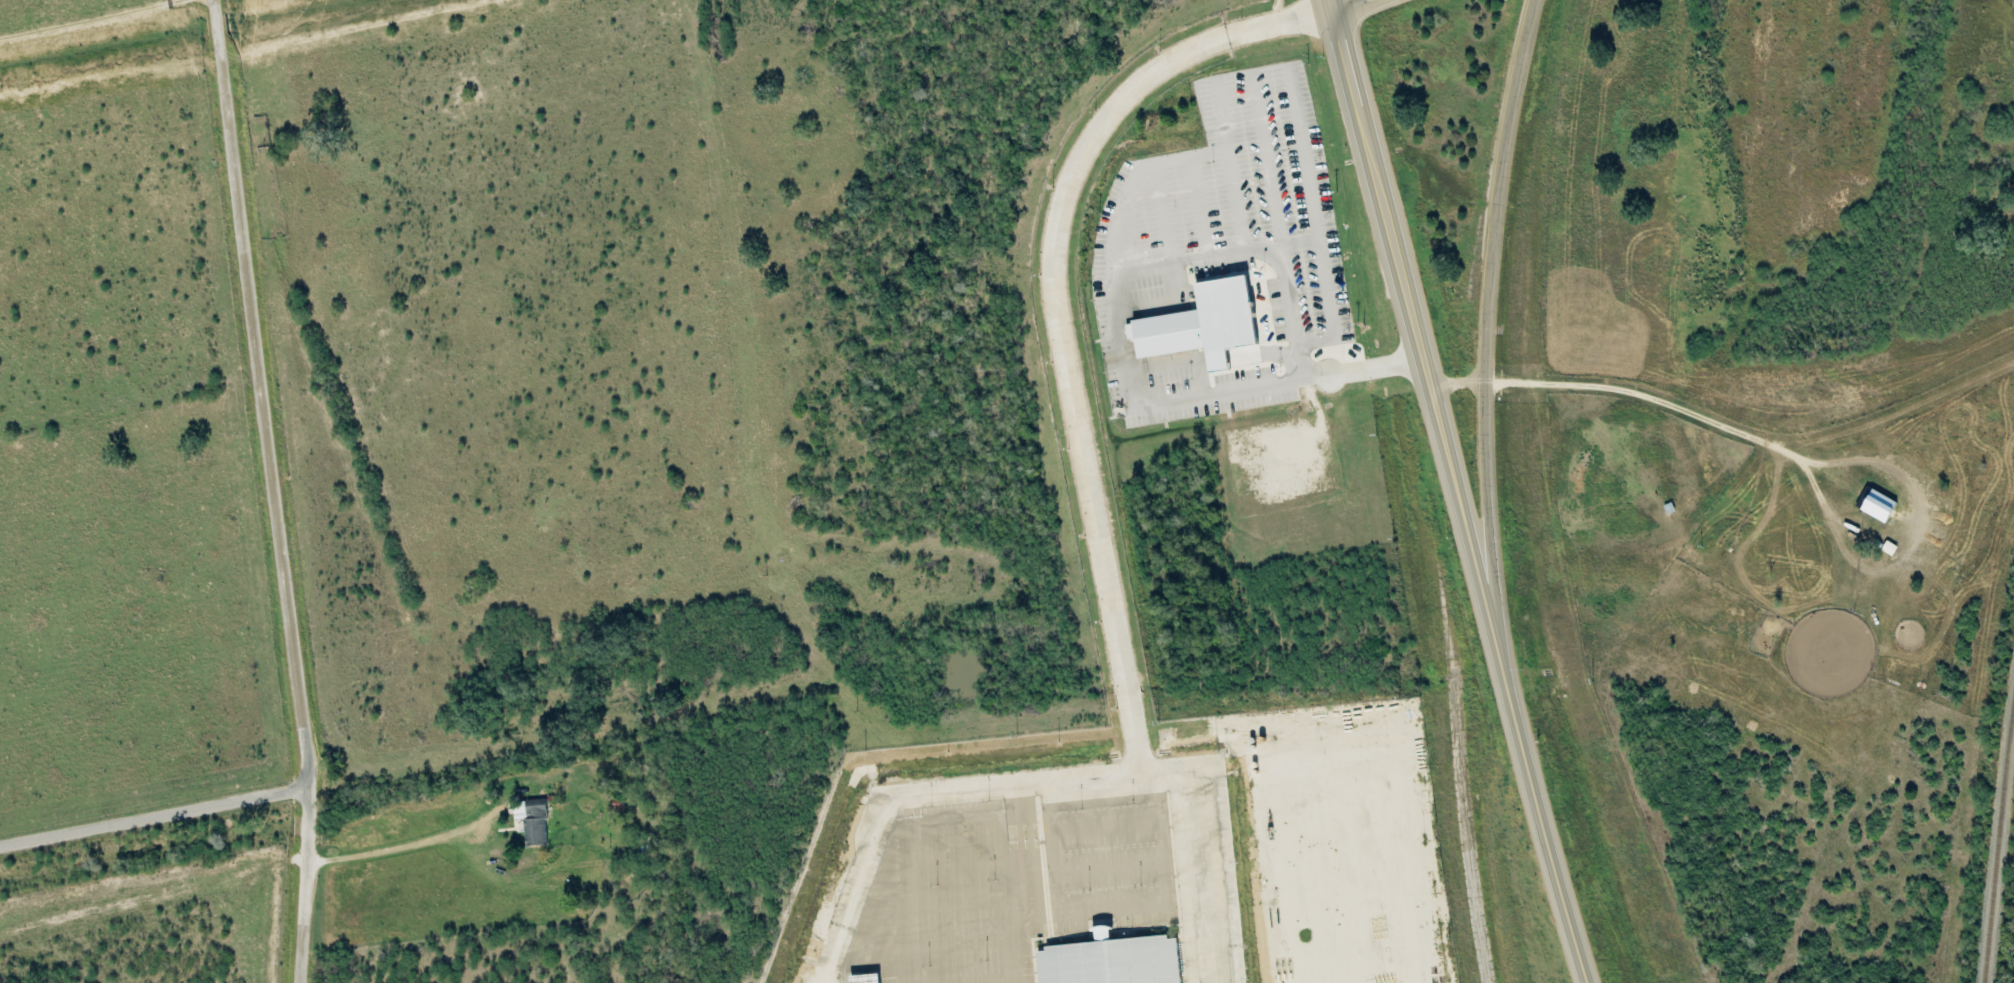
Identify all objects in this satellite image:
road: (1335, 10)
road: (1369, 10)
building: (1204, 325)
road: (1484, 342)
road: (1422, 355)
road: (278, 490)
building: (1880, 507)
road: (155, 815)
building: (534, 821)
railway: (1996, 834)
road: (1548, 836)
building: (1113, 961)
building: (867, 979)

